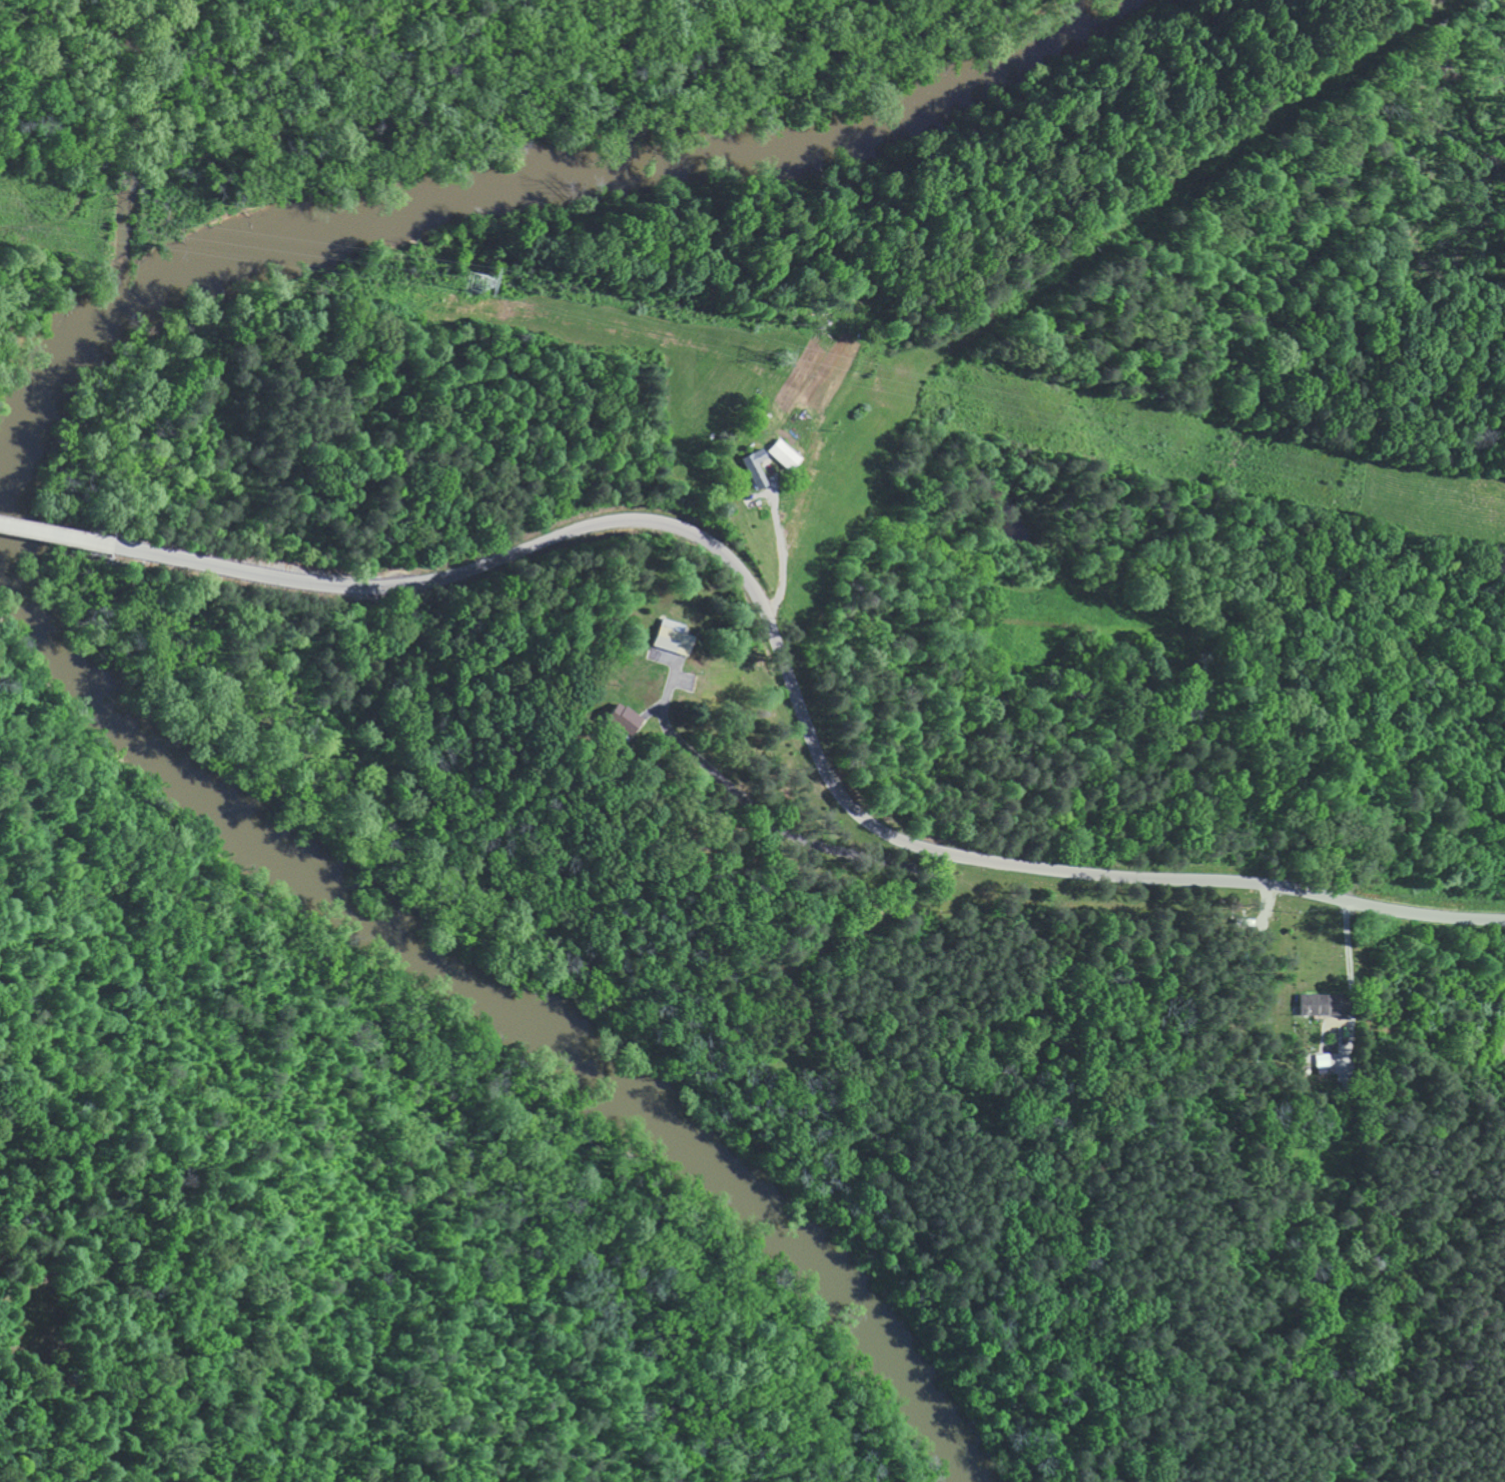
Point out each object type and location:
building: (789, 454)
building: (761, 467)
river: (75, 581)
building: (675, 640)
road: (776, 643)
building: (629, 719)
building: (1326, 1003)

